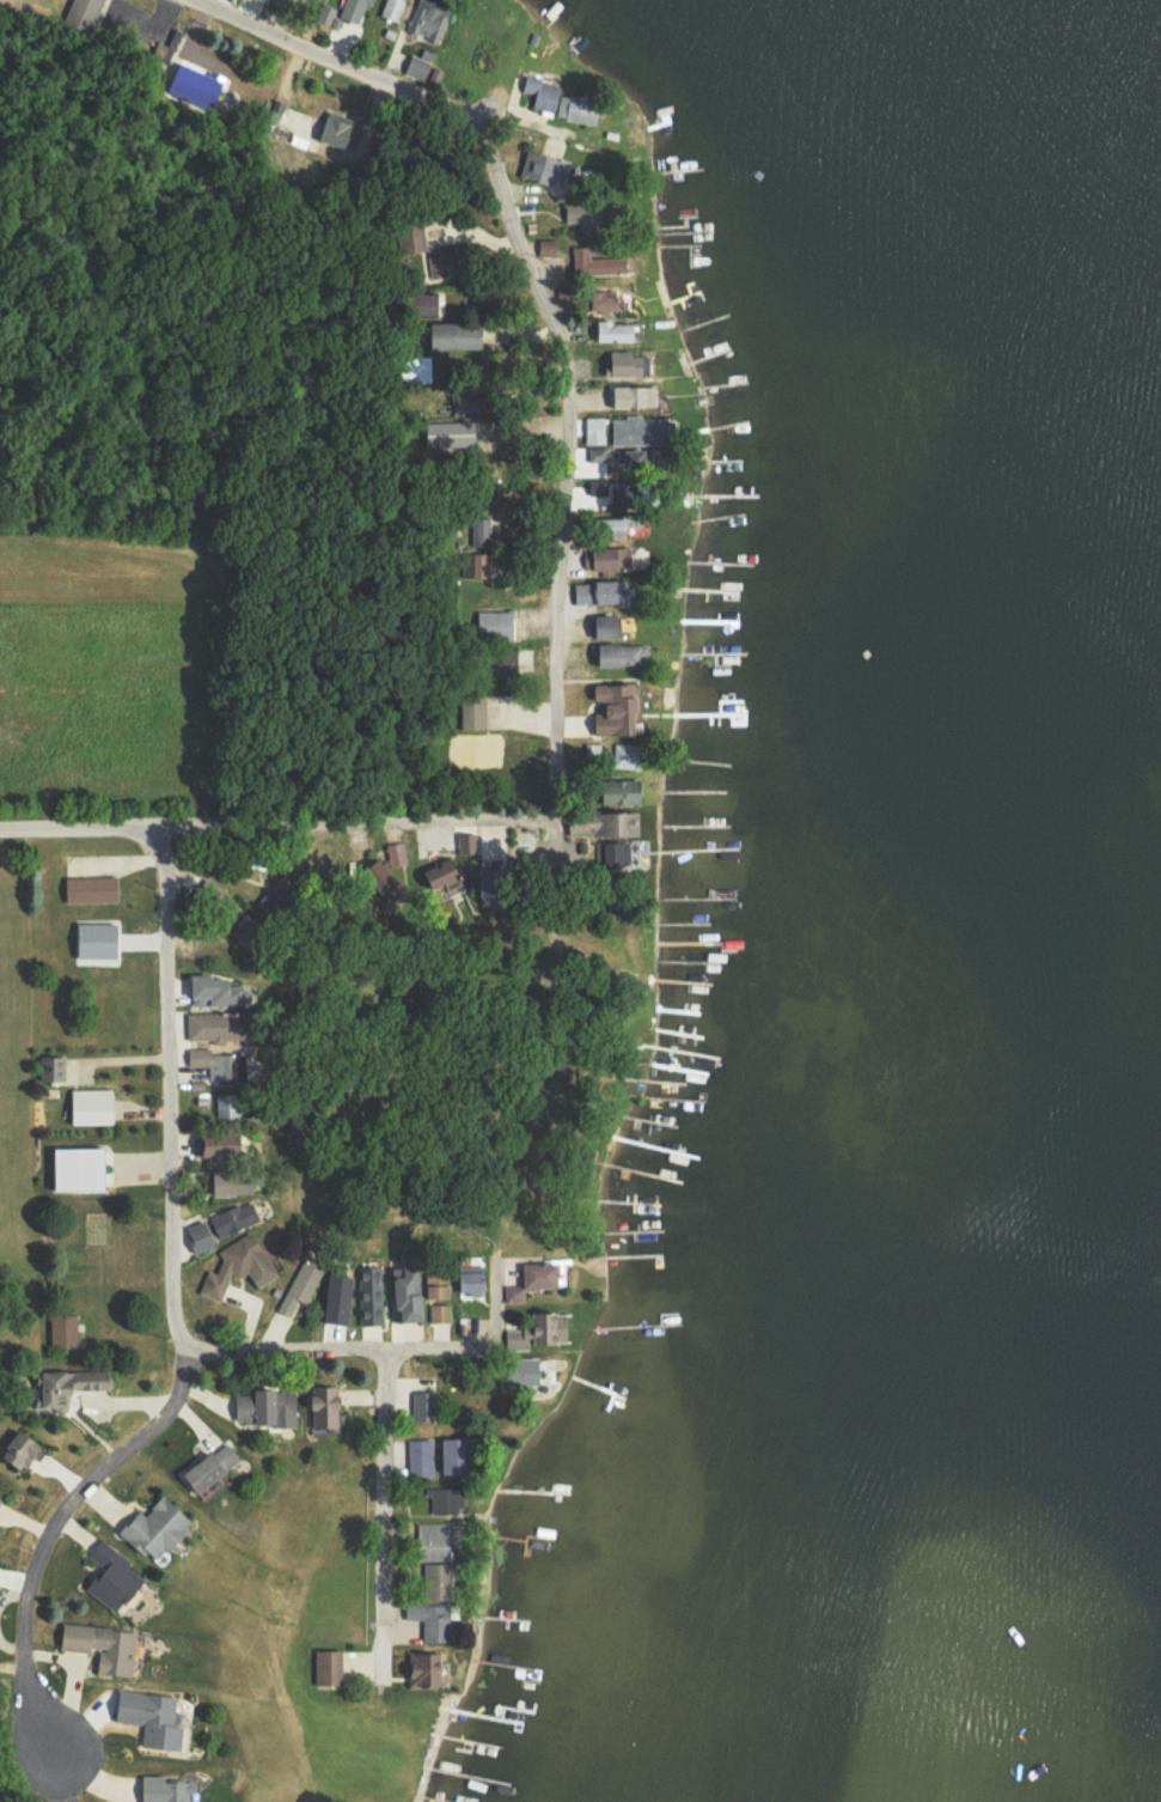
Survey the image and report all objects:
building: (279, 1)
building: (391, 8)
building: (86, 10)
building: (353, 10)
building: (325, 13)
building: (426, 19)
building: (195, 84)
building: (540, 92)
road: (434, 103)
building: (575, 108)
building: (338, 116)
building: (331, 132)
building: (538, 166)
building: (583, 214)
building: (546, 246)
building: (599, 262)
building: (439, 264)
building: (599, 302)
building: (427, 304)
building: (611, 330)
building: (451, 334)
building: (625, 361)
building: (418, 367)
building: (631, 394)
building: (593, 428)
building: (637, 430)
building: (450, 433)
building: (597, 455)
building: (592, 493)
building: (612, 524)
building: (481, 530)
road: (563, 548)
building: (606, 556)
building: (478, 564)
building: (593, 590)
building: (495, 623)
building: (619, 652)
building: (497, 660)
building: (612, 706)
building: (471, 710)
building: (627, 755)
building: (617, 790)
road: (549, 791)
building: (616, 820)
road: (261, 829)
building: (466, 841)
building: (618, 851)
building: (396, 852)
building: (375, 873)
building: (440, 878)
building: (88, 887)
building: (93, 939)
building: (212, 988)
building: (215, 1024)
building: (218, 1063)
building: (51, 1066)
road: (171, 1086)
building: (226, 1103)
building: (90, 1106)
building: (214, 1144)
building: (75, 1167)
building: (230, 1181)
building: (233, 1217)
building: (198, 1235)
building: (237, 1265)
building: (537, 1273)
building: (468, 1280)
building: (300, 1284)
building: (434, 1290)
building: (404, 1292)
building: (368, 1293)
building: (513, 1293)
building: (335, 1297)
building: (439, 1311)
building: (61, 1329)
building: (534, 1329)
road: (342, 1353)
building: (526, 1372)
building: (65, 1384)
building: (320, 1404)
building: (421, 1405)
building: (264, 1406)
building: (16, 1448)
building: (450, 1454)
building: (418, 1456)
building: (206, 1466)
building: (446, 1498)
road: (383, 1517)
building: (153, 1527)
building: (433, 1540)
road: (48, 1548)
building: (109, 1575)
building: (435, 1579)
building: (429, 1619)
building: (100, 1645)
building: (326, 1666)
building: (420, 1668)
building: (151, 1716)
building: (163, 1789)

